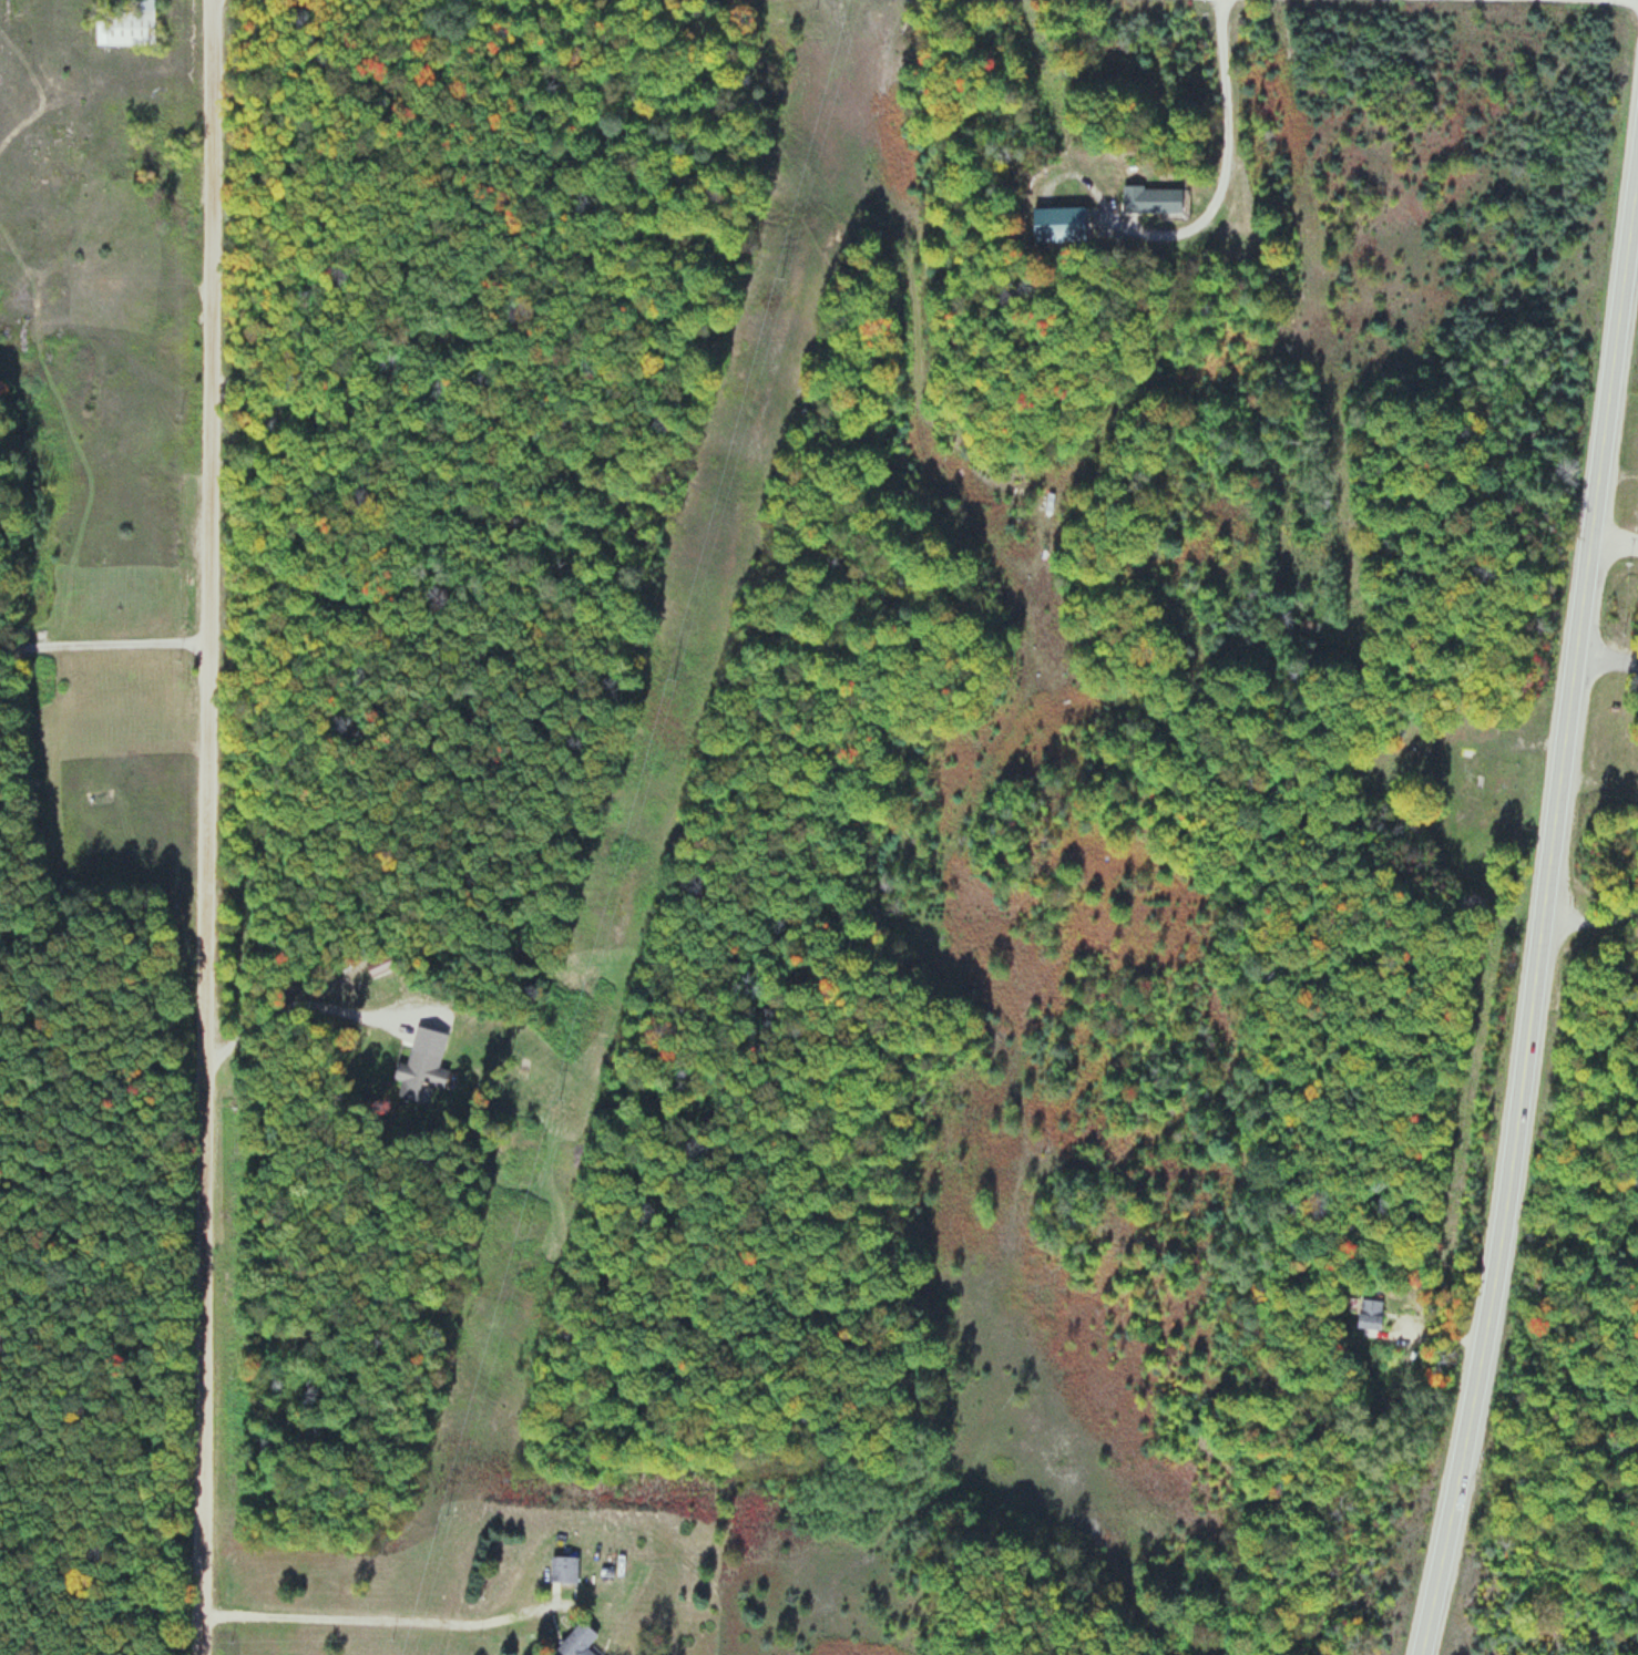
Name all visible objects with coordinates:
building: (124, 22)
building: (1150, 199)
building: (1057, 224)
building: (1467, 773)
road: (208, 826)
road: (1543, 906)
building: (419, 1076)
road: (102, 1248)
building: (1369, 1314)
building: (564, 1570)
building: (575, 1642)

